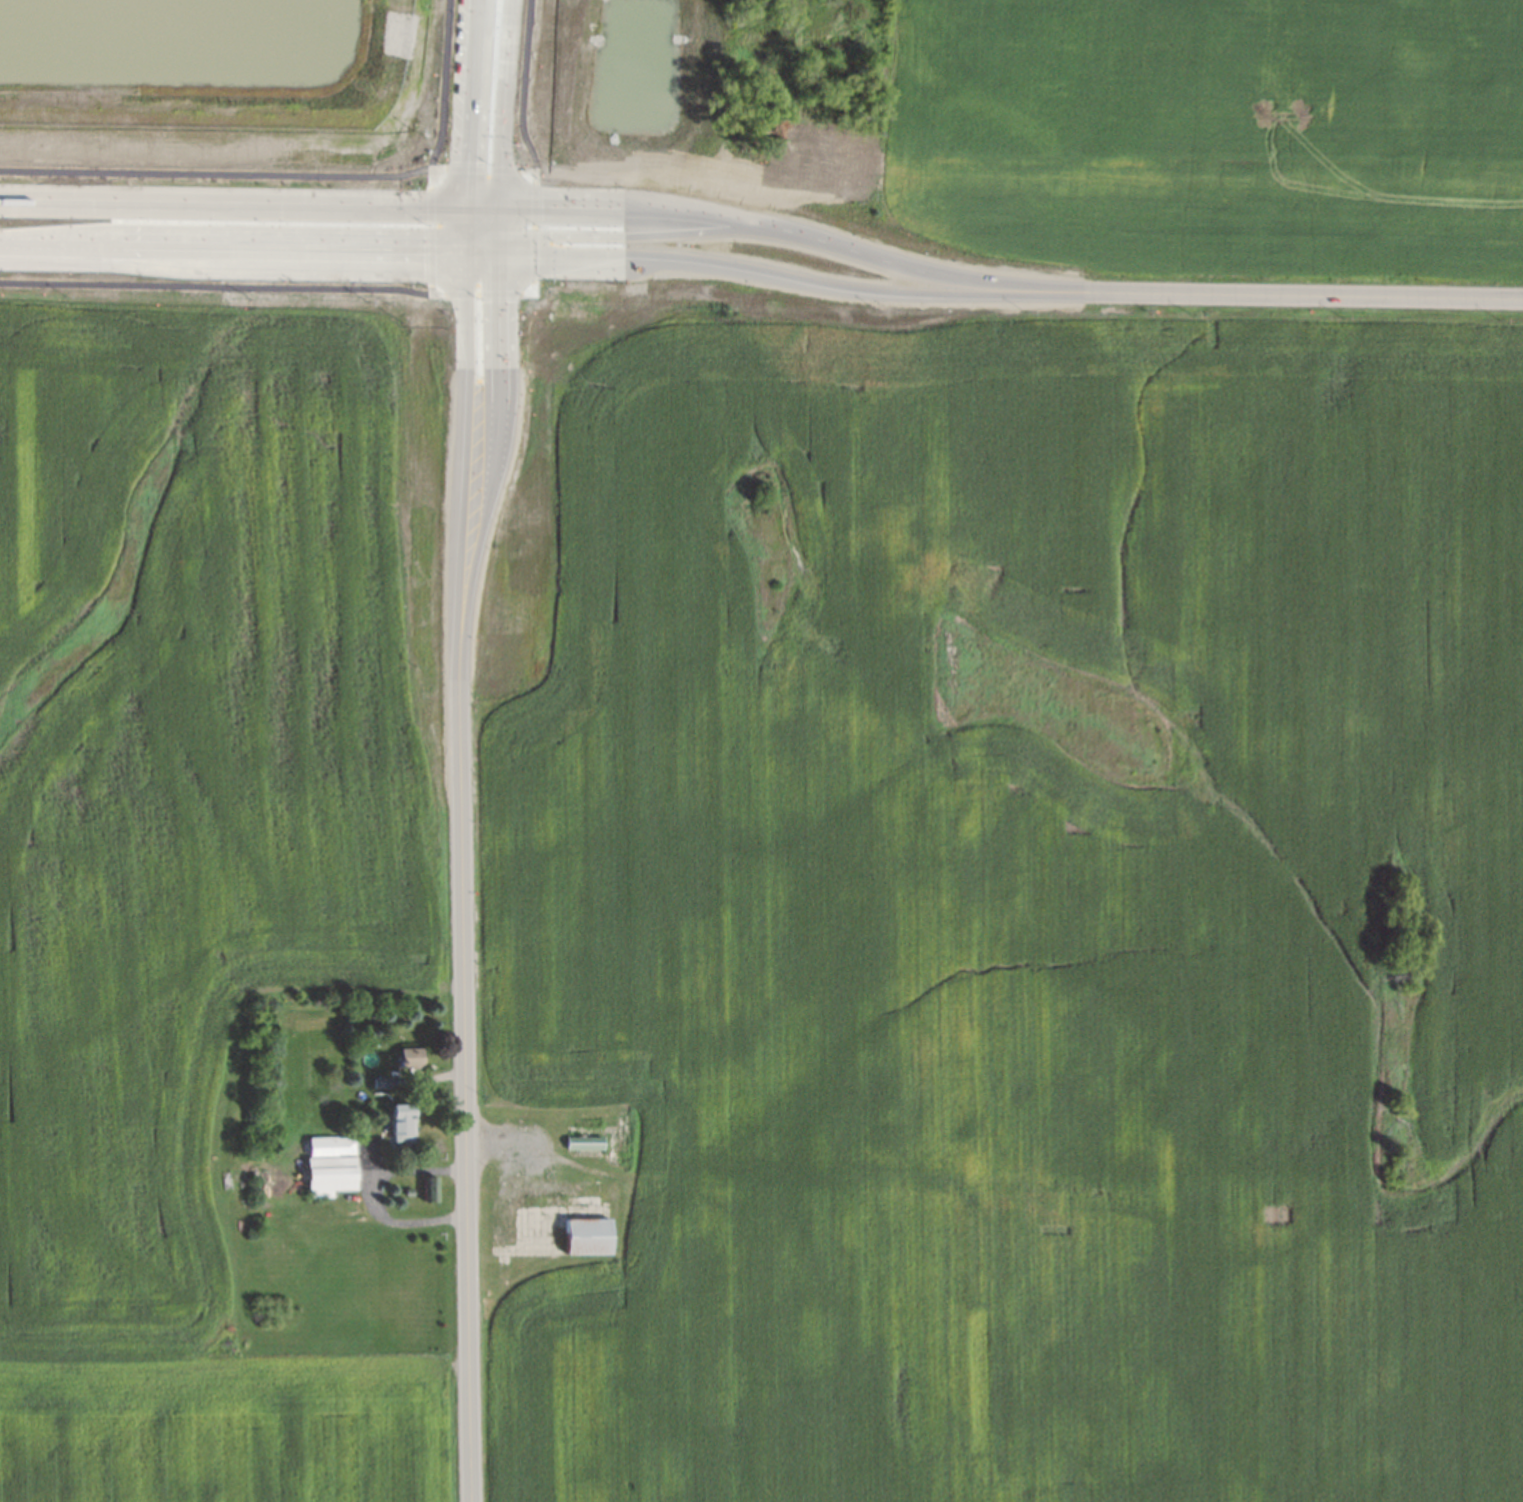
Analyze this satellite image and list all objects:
road: (443, 85)
road: (523, 86)
road: (471, 103)
road: (505, 103)
traffic signals: (468, 161)
road: (437, 169)
road: (489, 170)
road: (215, 173)
road: (430, 177)
road: (232, 202)
road: (483, 207)
traffic signals: (541, 207)
road: (499, 221)
road: (465, 231)
road: (534, 231)
road: (632, 235)
road: (815, 238)
road: (431, 240)
road: (480, 243)
road: (498, 246)
road: (232, 252)
traffic signals: (422, 255)
road: (481, 256)
road: (811, 282)
road: (215, 285)
road: (481, 293)
road: (1325, 297)
traffic signals: (497, 301)
road: (464, 454)
road: (495, 456)
crop: (186, 791)
crop: (1027, 923)
building: (407, 1052)
road: (464, 1077)
building: (377, 1078)
building: (398, 1110)
building: (342, 1142)
building: (580, 1142)
building: (325, 1151)
building: (326, 1171)
building: (498, 1171)
building: (426, 1188)
building: (486, 1188)
building: (405, 1190)
road: (375, 1196)
building: (532, 1200)
building: (583, 1233)
crop: (217, 1438)

